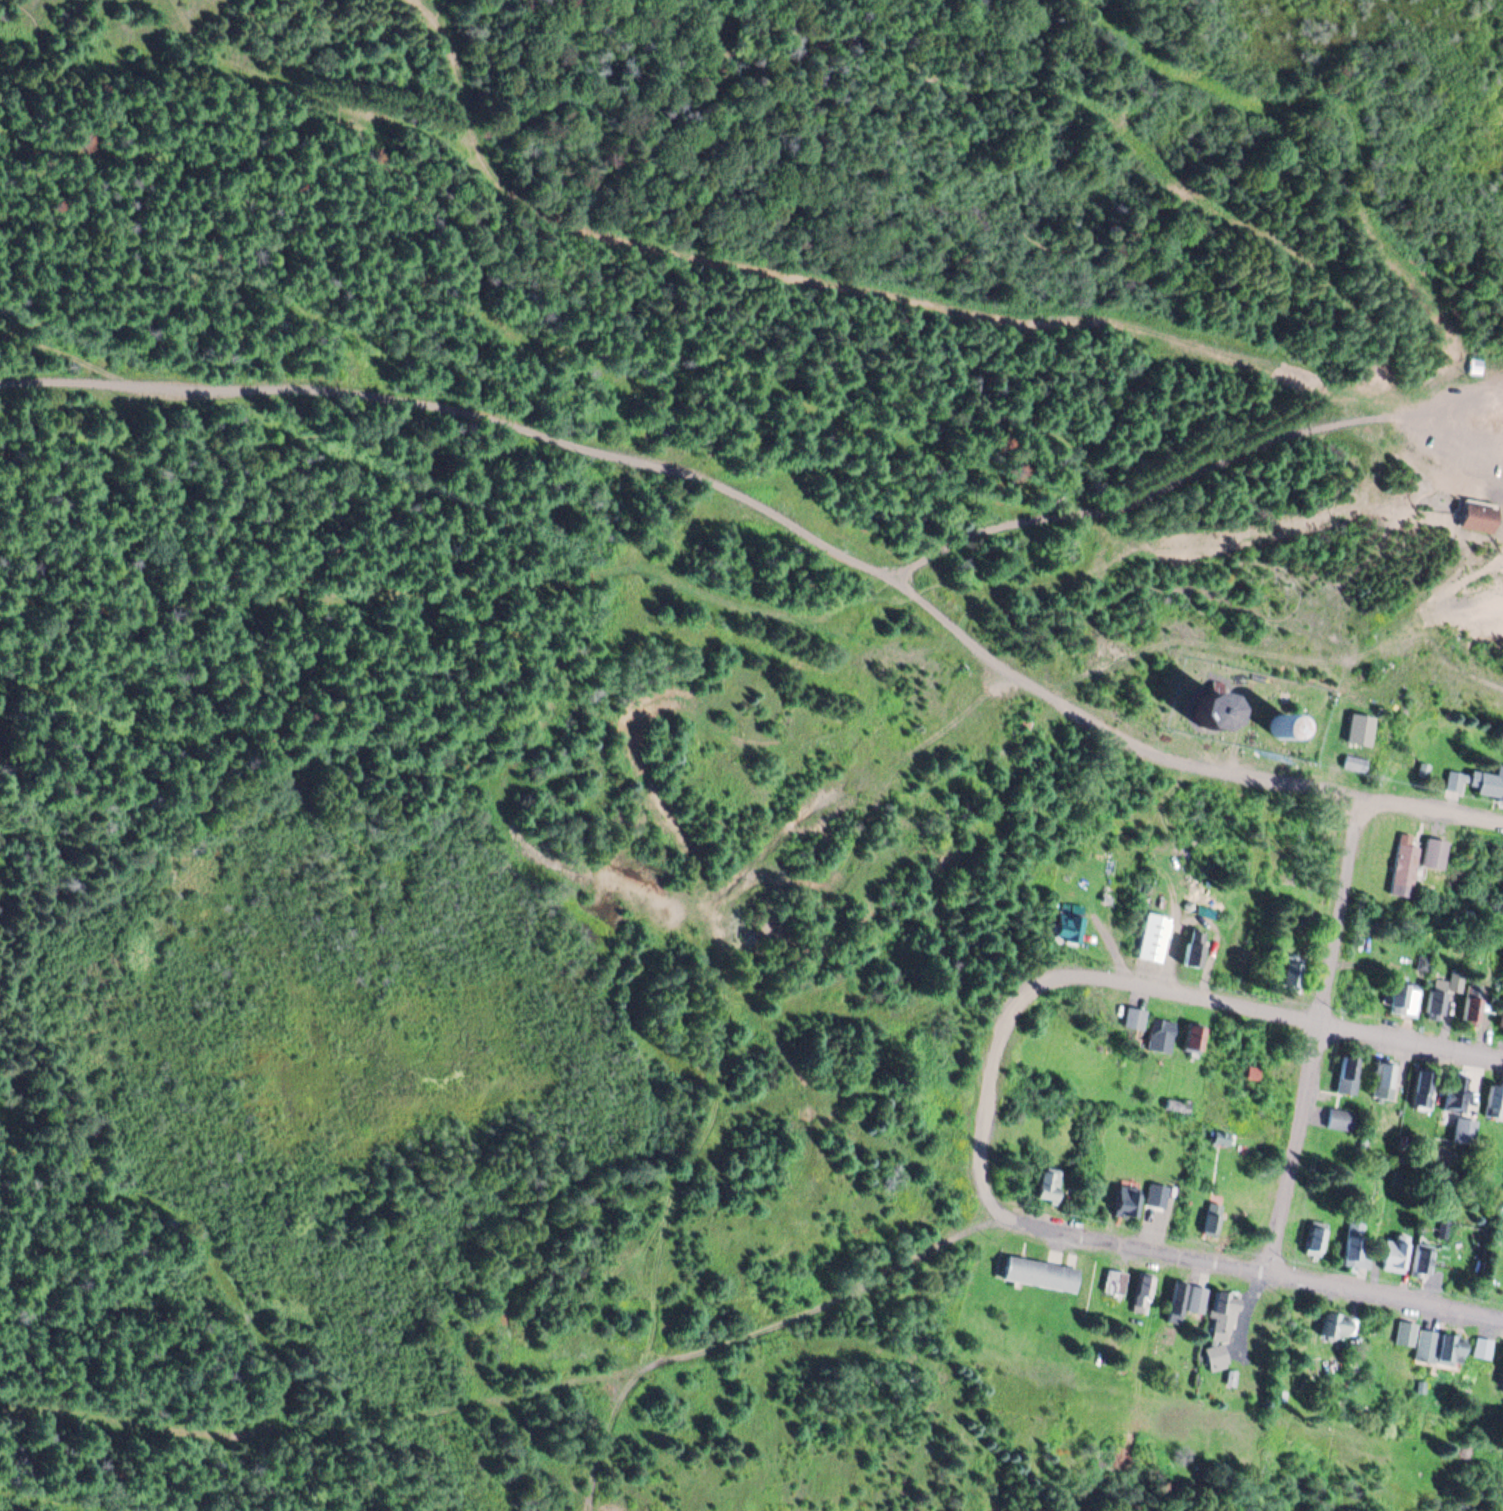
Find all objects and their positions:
road: (154, 71)
road: (313, 99)
road: (718, 119)
road: (318, 219)
road: (235, 274)
road: (858, 288)
road: (67, 355)
building: (1473, 366)
road: (511, 415)
road: (1020, 415)
road: (1429, 421)
parking lot: (1459, 432)
building: (1479, 516)
building: (1217, 708)
water tower: (1217, 710)
water tower: (1286, 723)
building: (1287, 724)
building: (1358, 727)
building: (1354, 760)
road: (1223, 762)
building: (1454, 779)
building: (1490, 780)
building: (1433, 852)
building: (1402, 869)
building: (1066, 926)
building: (1151, 937)
building: (1193, 946)
building: (1455, 981)
building: (1398, 994)
road: (1279, 1002)
building: (1434, 1003)
building: (1470, 1010)
building: (1132, 1016)
building: (1502, 1021)
road: (1320, 1031)
building: (1158, 1034)
building: (1192, 1036)
building: (1346, 1075)
road: (1003, 1078)
building: (1381, 1078)
building: (1420, 1089)
building: (1455, 1093)
building: (1492, 1102)
building: (1176, 1104)
building: (1339, 1120)
building: (1463, 1129)
building: (1220, 1137)
building: (1048, 1184)
building: (1125, 1200)
building: (1210, 1216)
building: (1314, 1238)
building: (1355, 1248)
building: (1393, 1251)
building: (1421, 1258)
road: (1251, 1263)
building: (1039, 1273)
building: (1114, 1281)
building: (1141, 1290)
building: (1176, 1297)
building: (1196, 1298)
building: (1220, 1315)
building: (1334, 1323)
building: (1404, 1332)
building: (1424, 1344)
building: (1449, 1346)
building: (1481, 1346)
building: (1214, 1353)
building: (1229, 1375)

